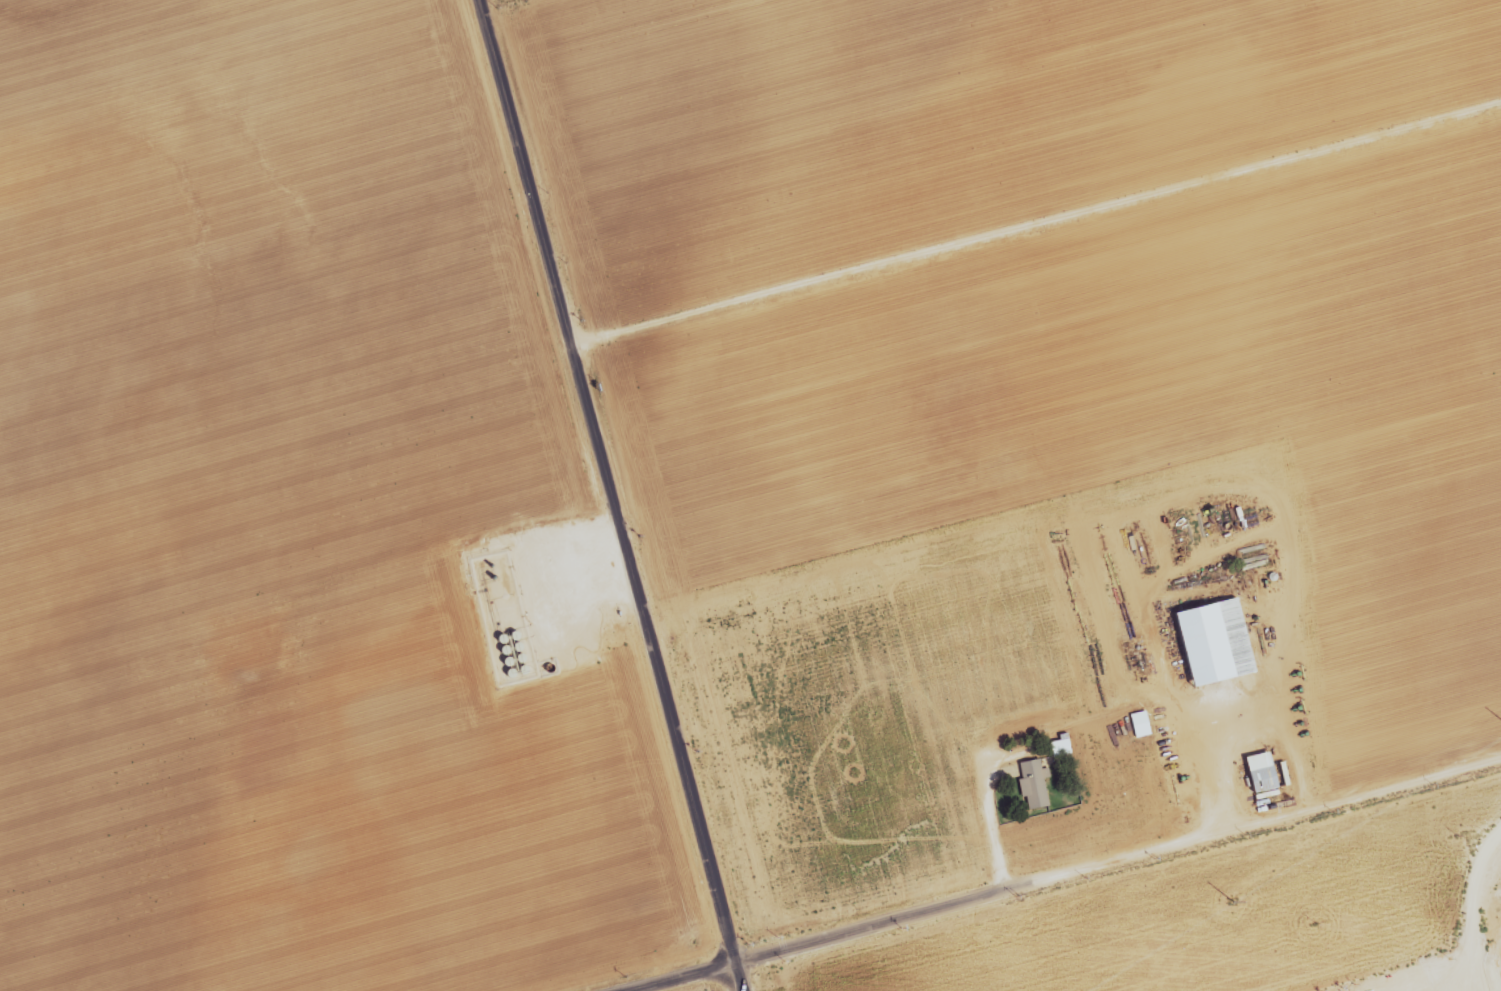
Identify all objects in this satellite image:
road: (601, 490)
building: (1140, 724)
building: (1261, 772)
building: (1032, 785)
road: (987, 808)
power tower: (1456, 834)
road: (999, 891)
power tower: (1233, 902)
power tower: (1314, 924)

